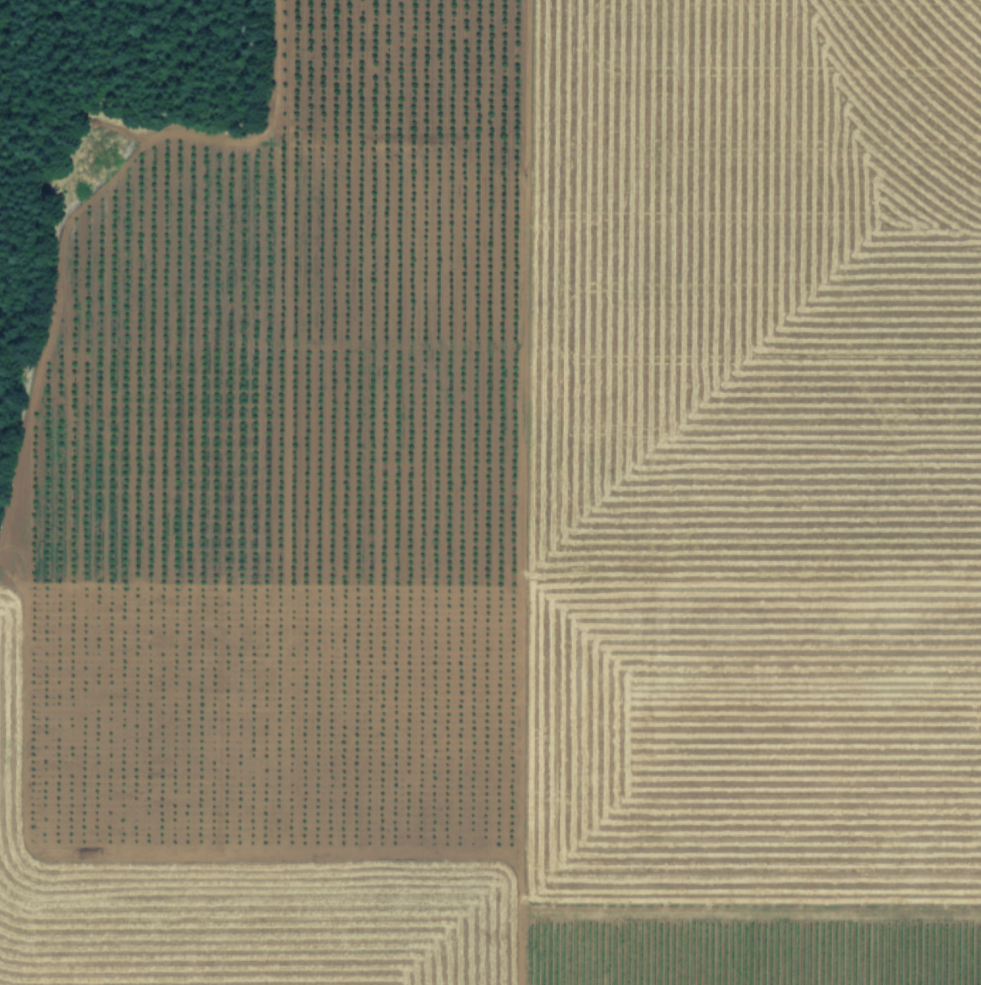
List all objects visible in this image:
crop: (510, 512)

